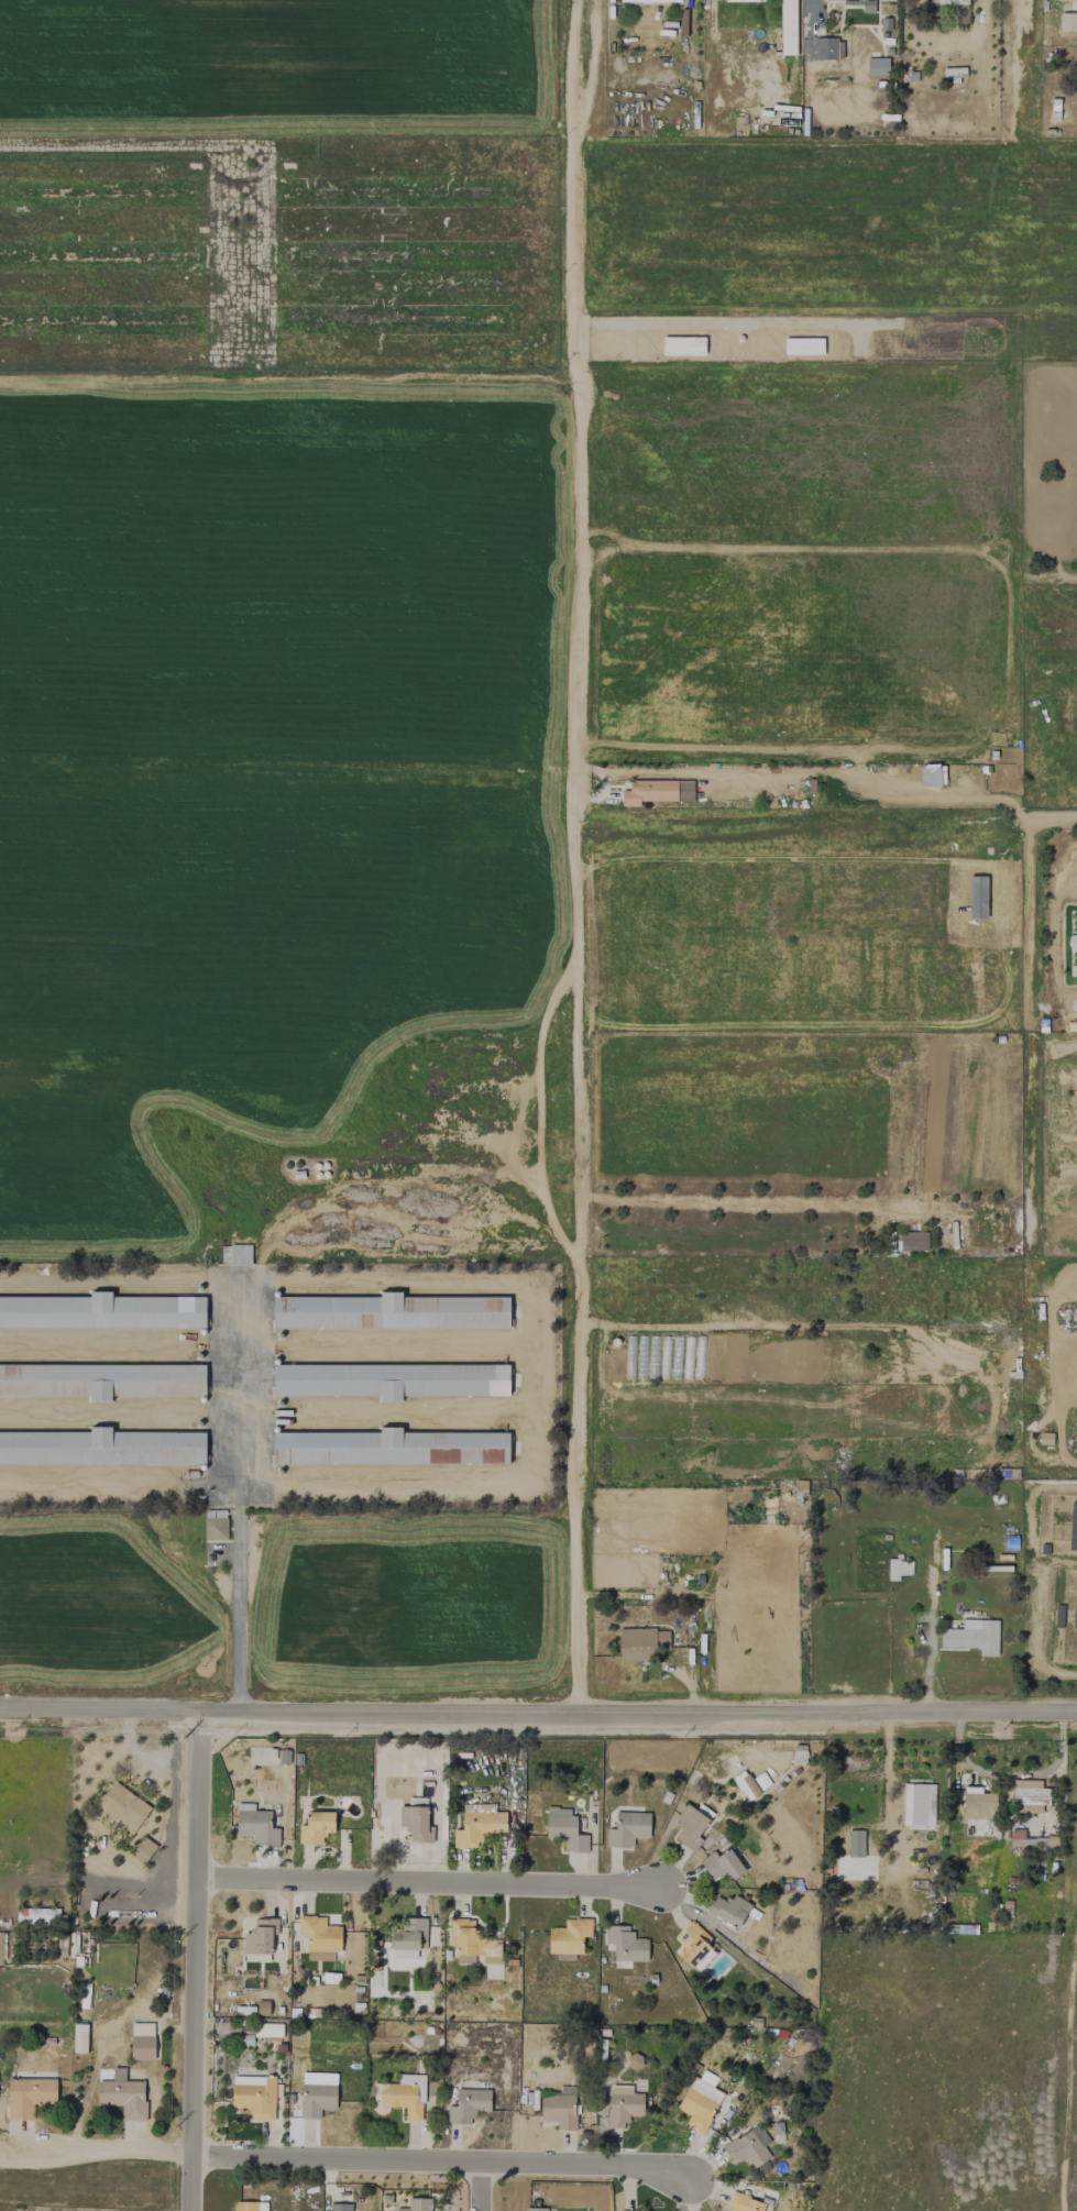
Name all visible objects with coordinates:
building: (740, 0)
building: (648, 1)
building: (952, 2)
building: (1073, 3)
building: (861, 4)
building: (1067, 22)
building: (787, 28)
building: (826, 48)
road: (1021, 63)
building: (877, 67)
road: (129, 145)
building: (942, 774)
building: (657, 791)
road: (1054, 820)
road: (574, 857)
building: (1071, 942)
road: (1030, 1035)
road: (1071, 1047)
building: (911, 1241)
building: (239, 1256)
building: (101, 1311)
building: (389, 1311)
building: (102, 1380)
building: (389, 1380)
road: (526, 1383)
building: (102, 1447)
building: (388, 1448)
building: (215, 1525)
building: (1073, 1527)
building: (898, 1569)
road: (238, 1598)
building: (1074, 1617)
road: (928, 1628)
building: (972, 1636)
building: (640, 1643)
road: (538, 1713)
building: (799, 1753)
building: (760, 1781)
building: (745, 1785)
building: (1029, 1795)
building: (977, 1804)
building: (917, 1805)
building: (122, 1807)
building: (415, 1824)
building: (691, 1825)
building: (256, 1826)
building: (315, 1827)
building: (477, 1827)
building: (627, 1828)
building: (564, 1829)
building: (855, 1844)
building: (143, 1849)
building: (722, 1866)
road: (429, 1882)
building: (727, 1911)
building: (37, 1916)
building: (568, 1936)
building: (319, 1937)
building: (260, 1938)
building: (408, 1938)
building: (472, 1944)
building: (625, 1944)
building: (693, 1946)
road: (195, 1960)
building: (261, 2008)
building: (267, 2031)
building: (79, 2038)
building: (141, 2041)
building: (634, 2060)
building: (122, 2094)
building: (403, 2095)
building: (28, 2097)
building: (254, 2097)
building: (316, 2099)
building: (699, 2103)
building: (468, 2105)
building: (623, 2105)
road: (1073, 2105)
building: (559, 2108)
building: (748, 2147)
road: (342, 2160)
road: (480, 2187)
building: (743, 2203)
building: (417, 2204)
building: (249, 2205)
building: (339, 2207)
building: (535, 2209)

